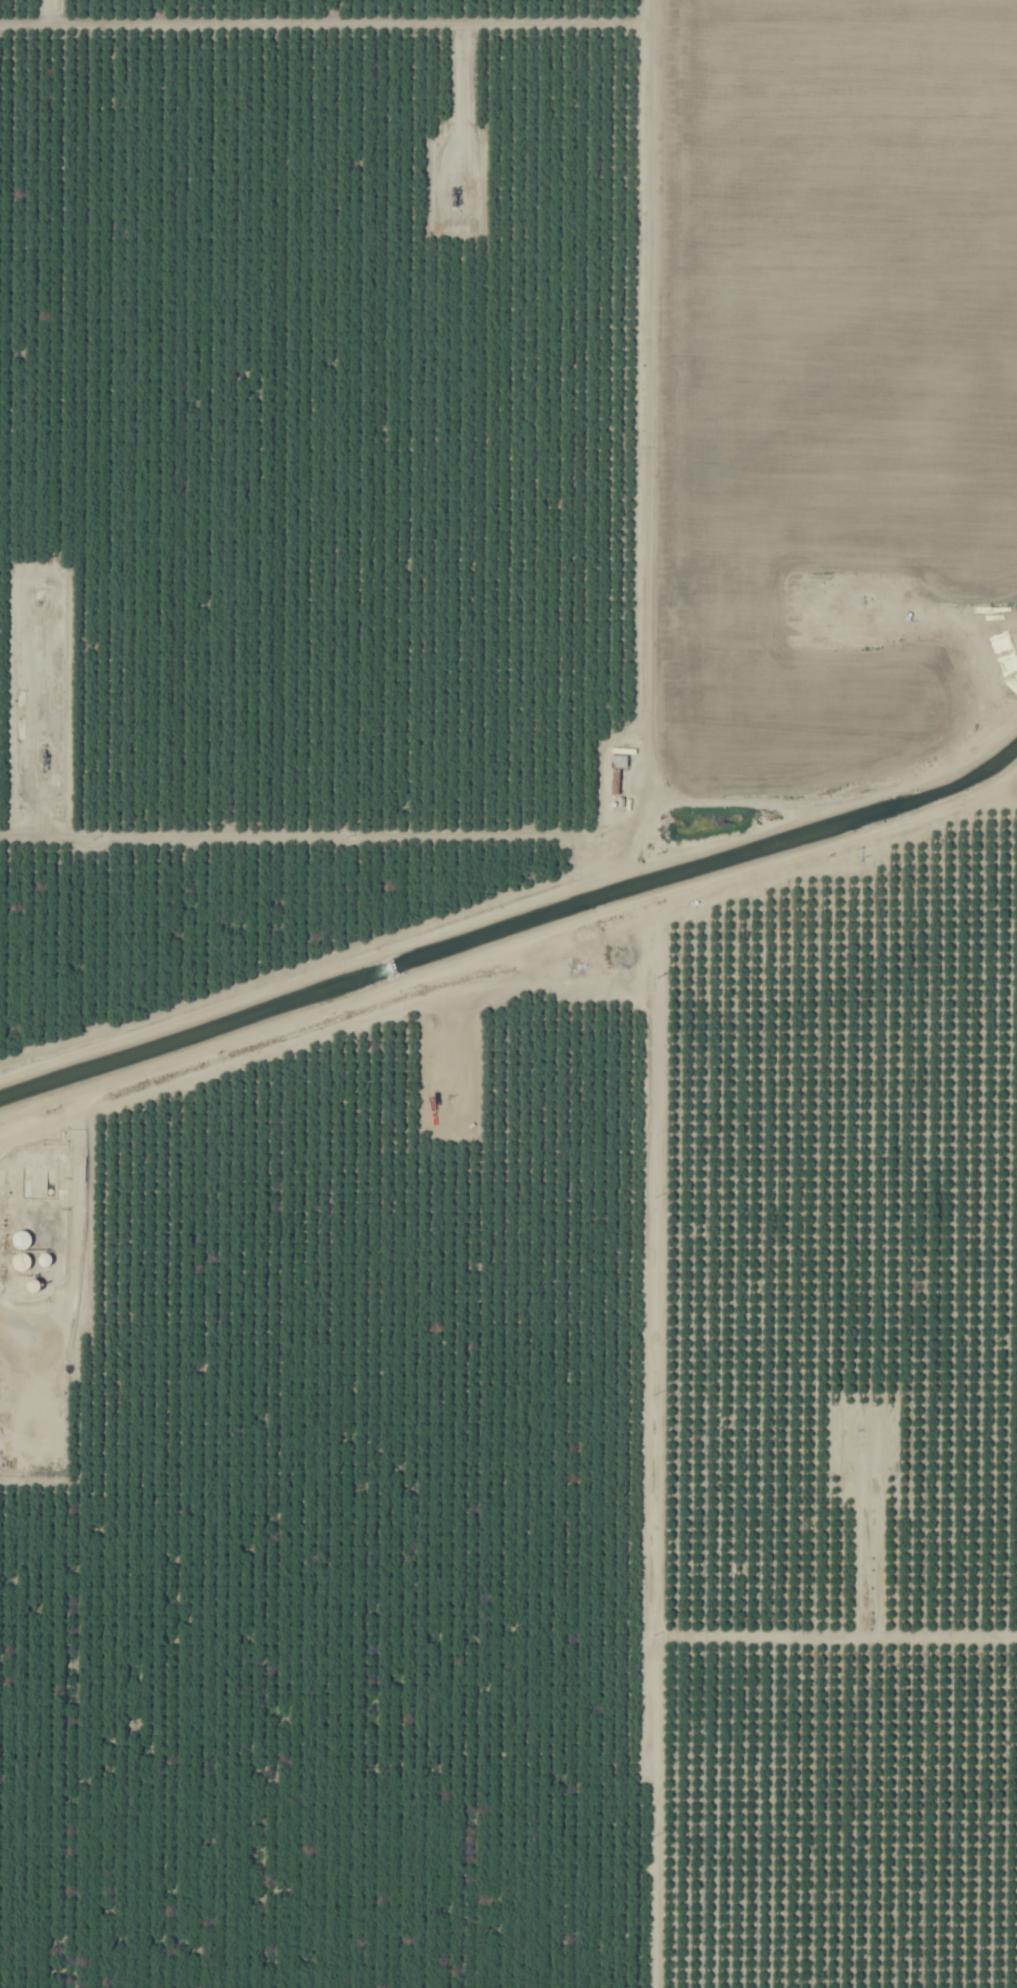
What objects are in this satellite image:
road: (661, 426)

